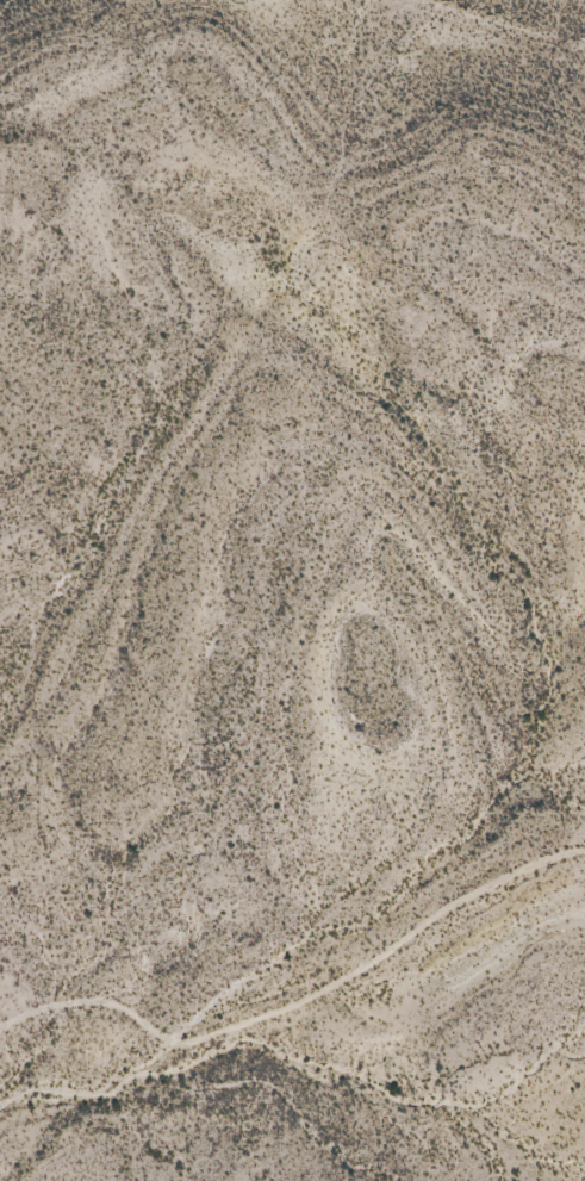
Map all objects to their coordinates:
road: (309, 1014)

